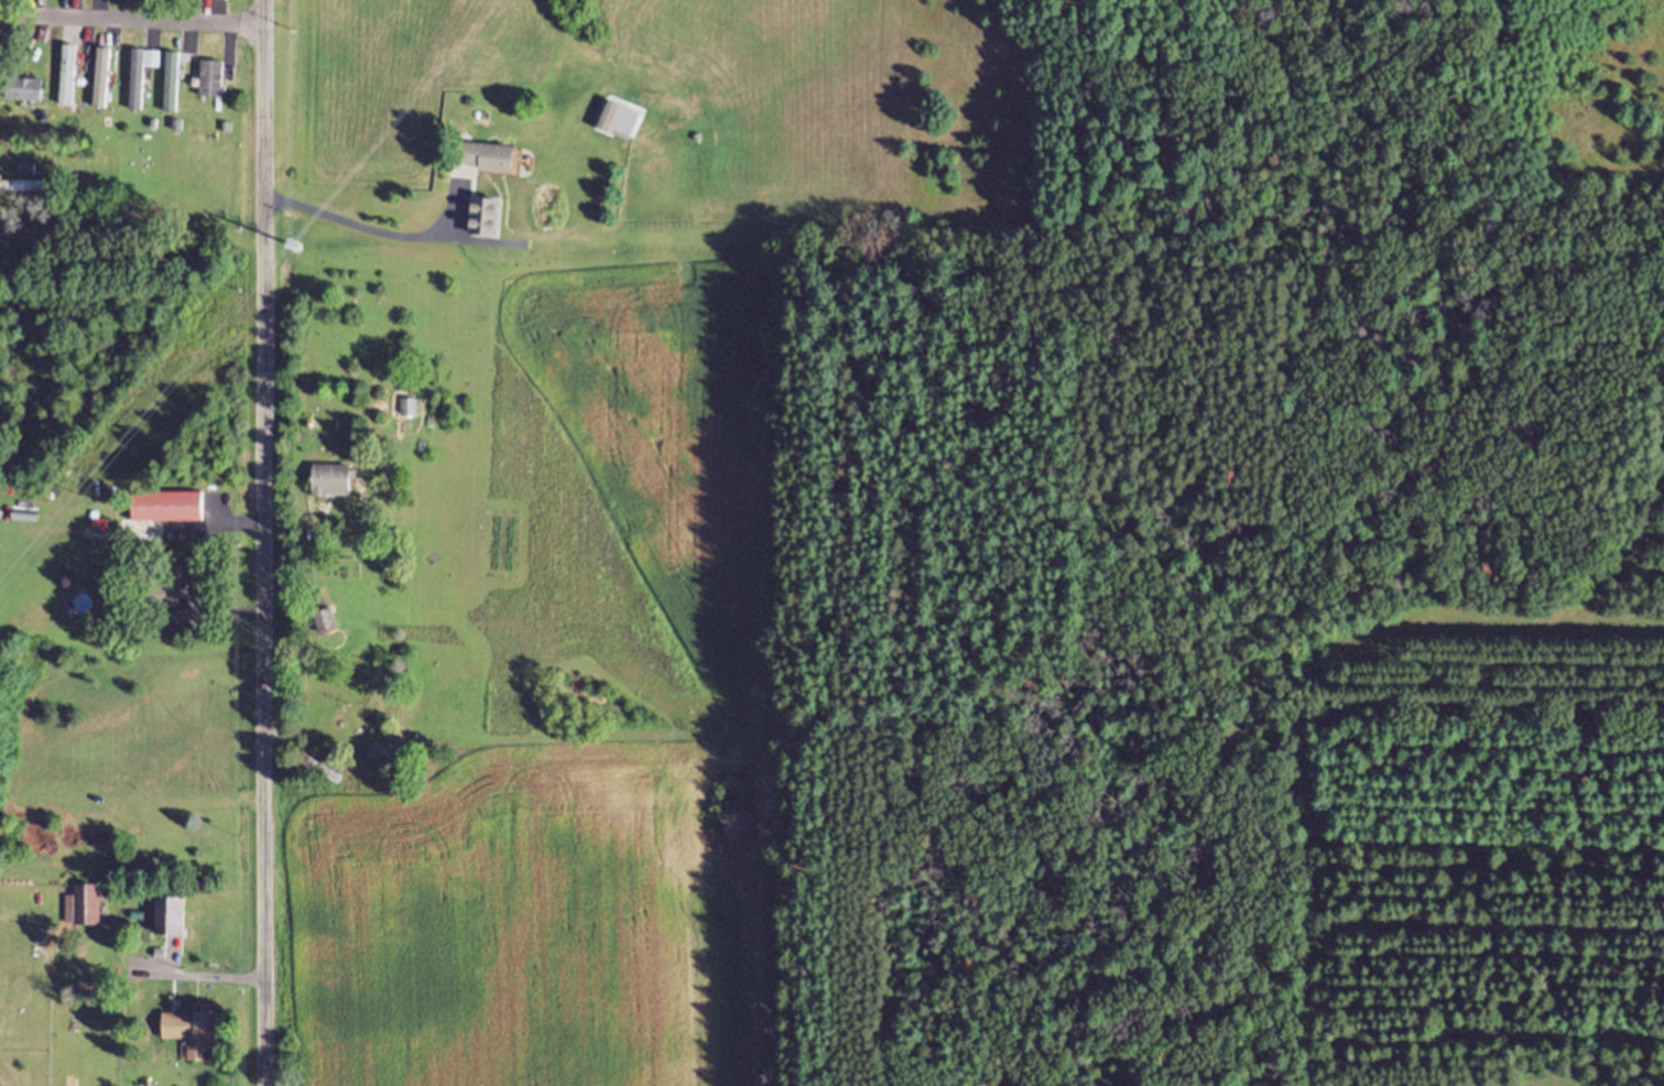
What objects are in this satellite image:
building: (219, 0)
road: (132, 22)
building: (140, 78)
building: (214, 80)
building: (172, 84)
building: (28, 93)
building: (624, 121)
building: (497, 160)
building: (26, 189)
building: (492, 210)
power tower: (296, 227)
road: (370, 232)
building: (412, 410)
building: (339, 484)
building: (173, 510)
road: (263, 542)
road: (305, 583)
building: (174, 595)
building: (328, 622)
crop: (598, 716)
building: (385, 753)
building: (90, 908)
building: (178, 919)
road: (216, 979)
building: (204, 1034)

